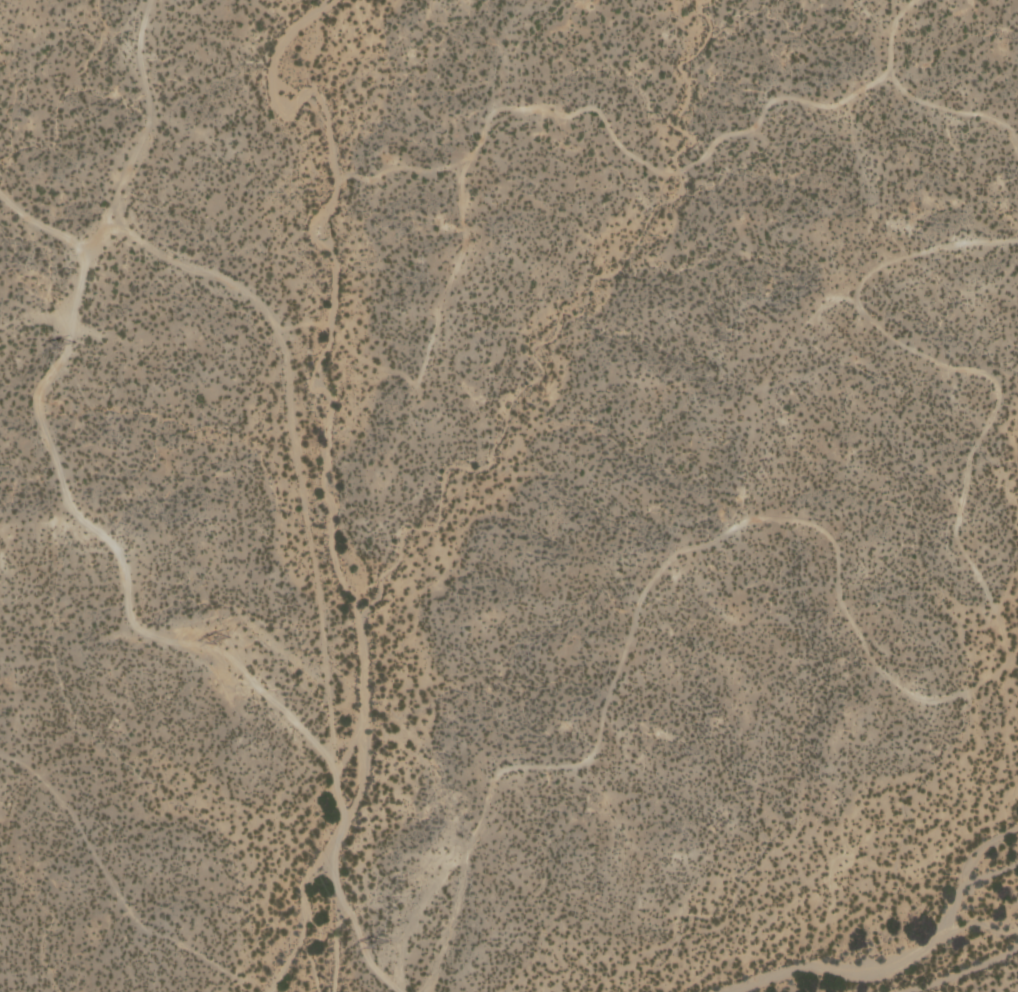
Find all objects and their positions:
road: (951, 111)
road: (641, 159)
road: (102, 230)
road: (279, 333)
power tower: (67, 344)
road: (127, 618)
power tower: (221, 640)
road: (861, 641)
road: (452, 919)
power tower: (384, 942)

